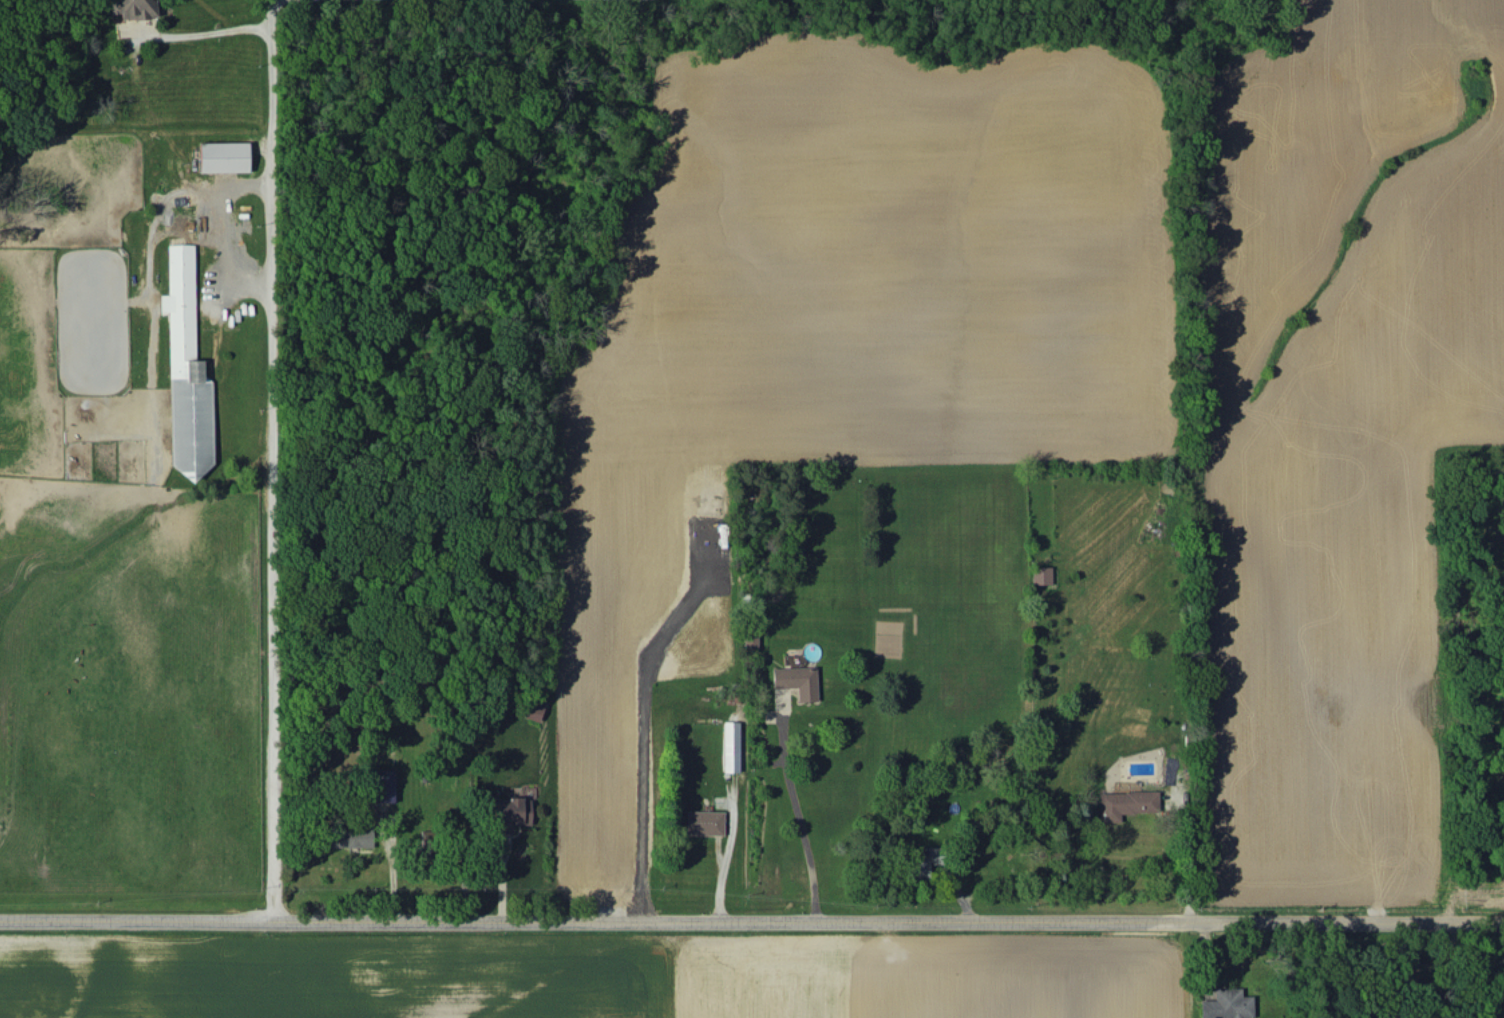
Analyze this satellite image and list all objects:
building: (133, 8)
road: (206, 34)
building: (224, 156)
building: (186, 371)
road: (273, 459)
building: (1041, 575)
building: (797, 681)
building: (534, 708)
building: (730, 746)
building: (383, 785)
building: (1125, 803)
road: (795, 810)
building: (512, 813)
building: (704, 822)
building: (350, 836)
road: (1180, 857)
building: (925, 861)
road: (751, 919)

